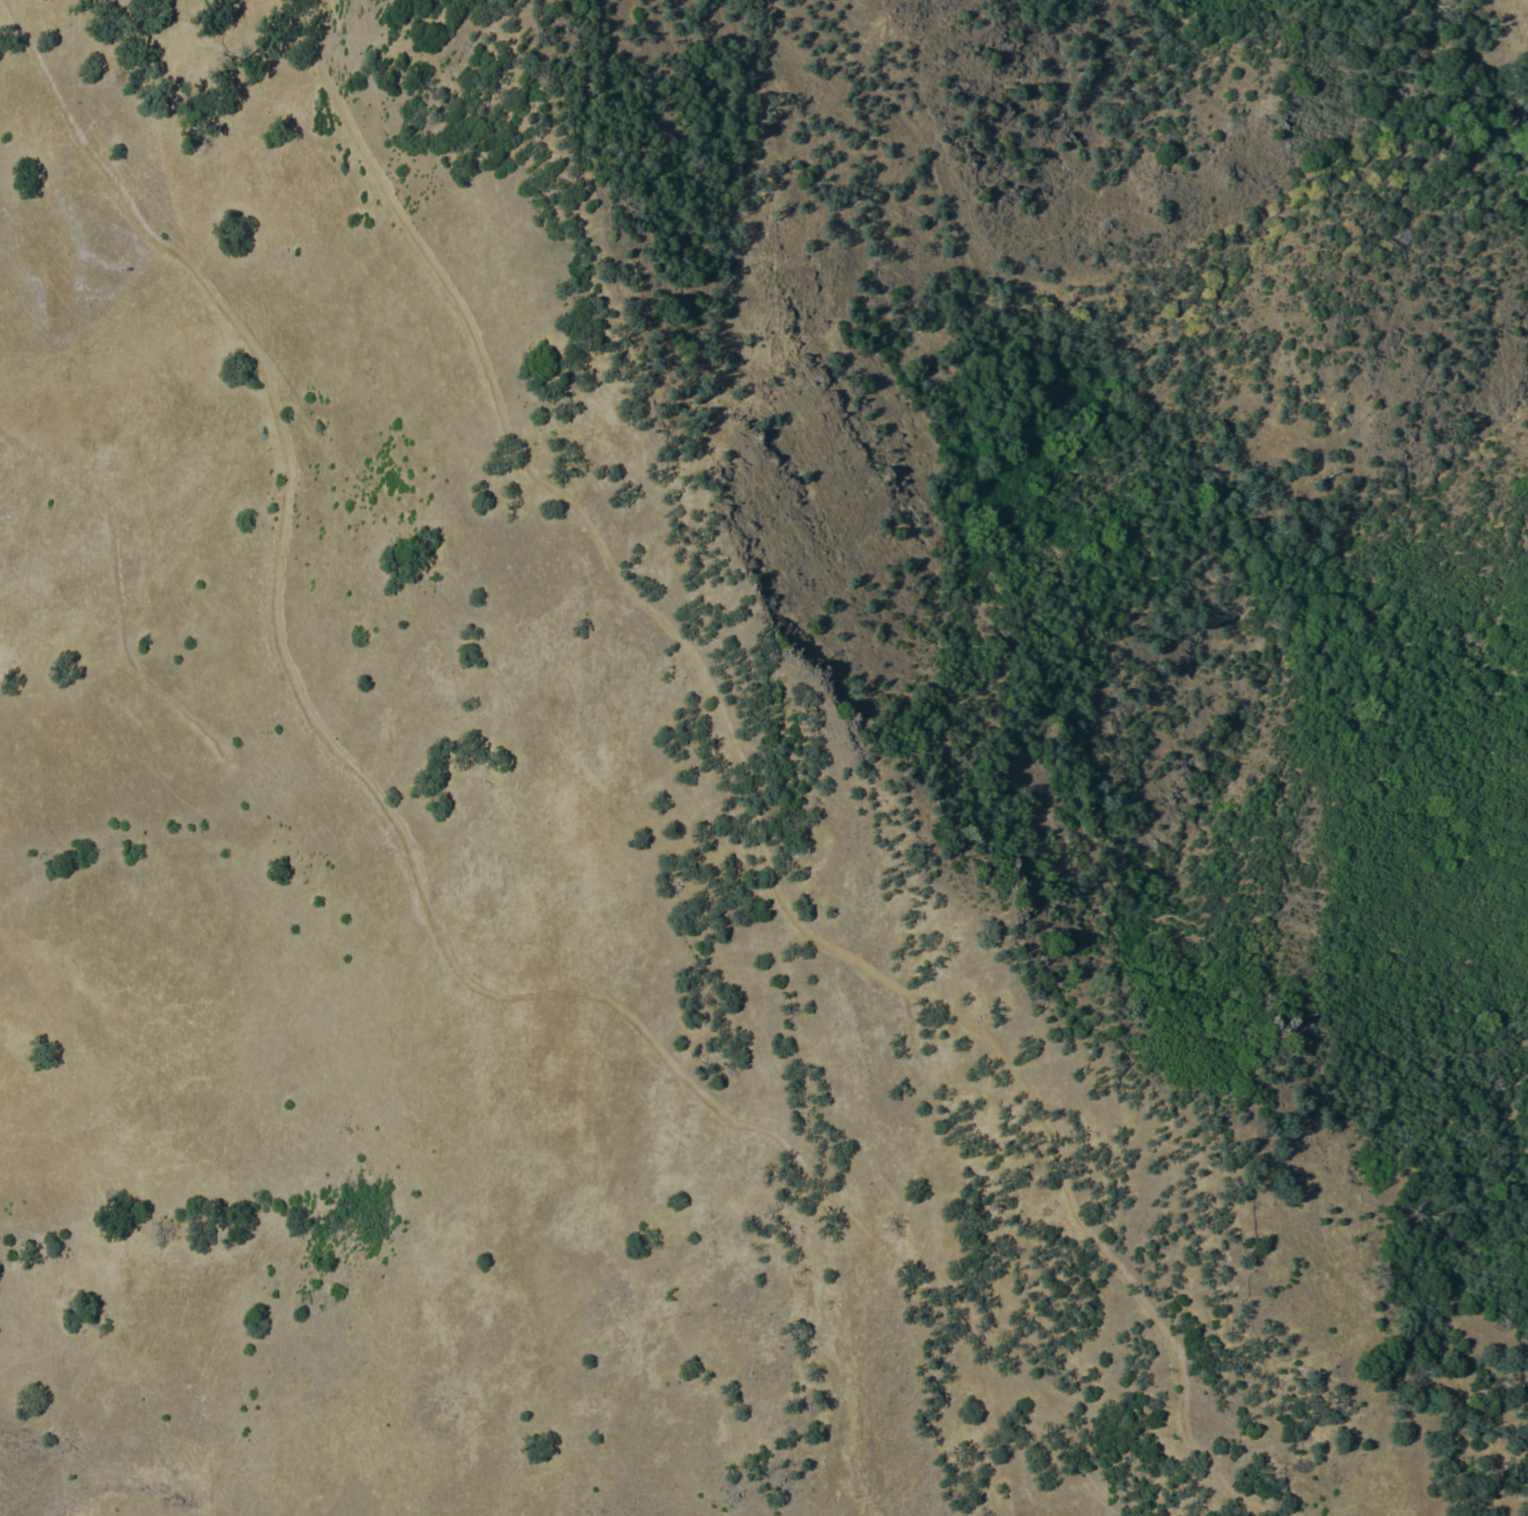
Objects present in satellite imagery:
road: (314, 720)
road: (750, 796)

